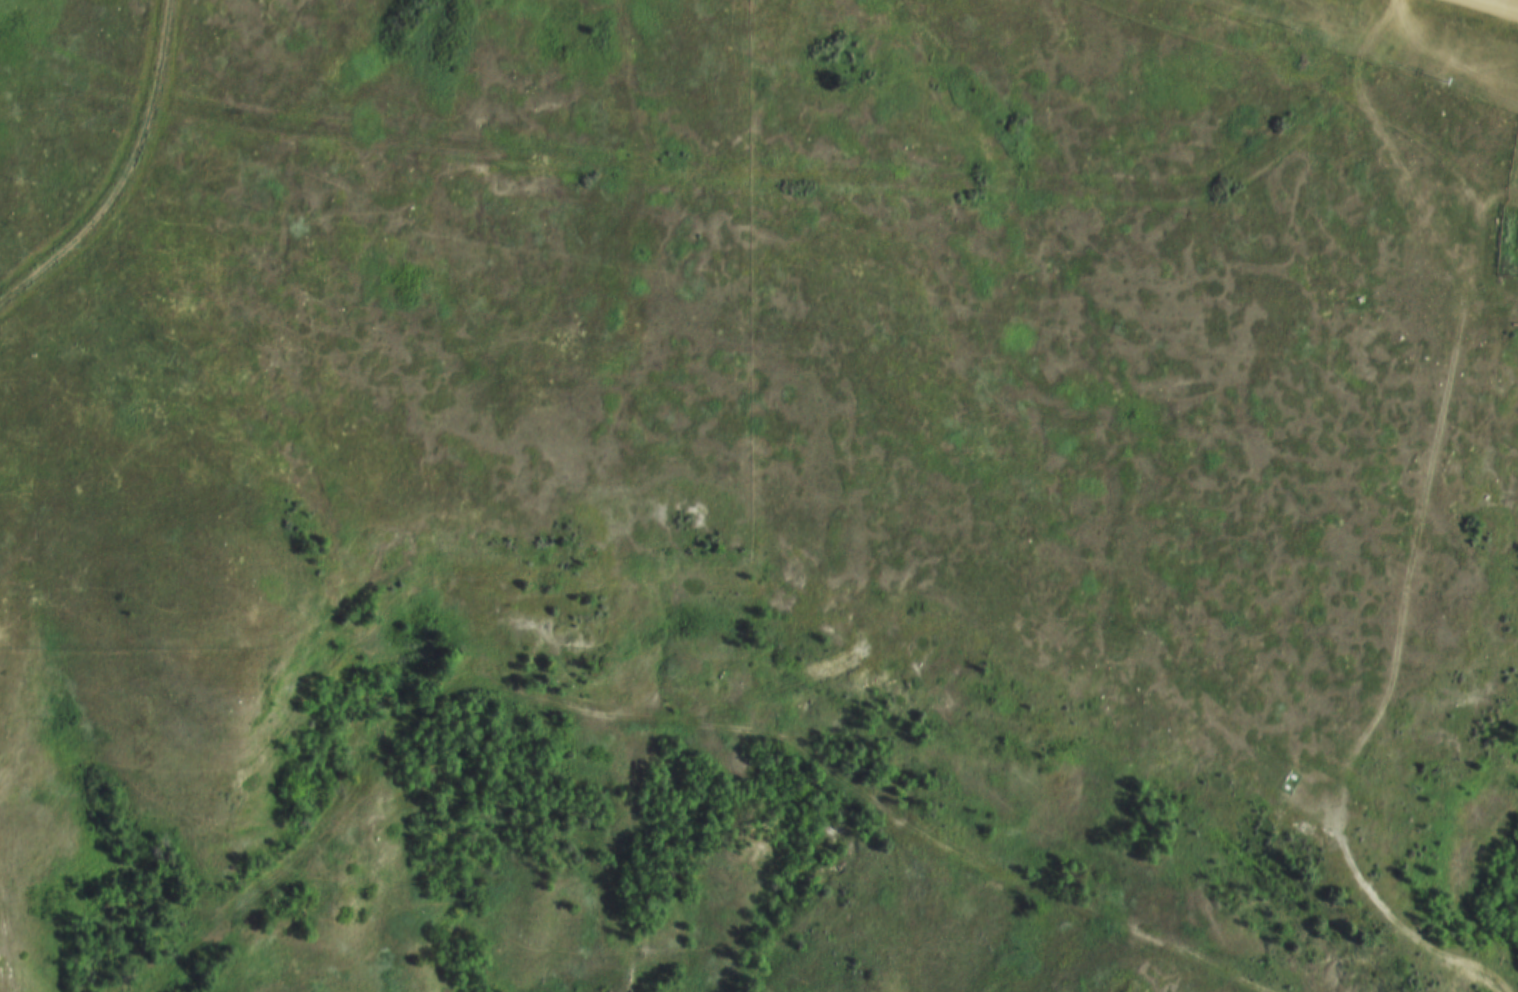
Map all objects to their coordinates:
road: (1498, 5)
road: (1455, 50)
road: (125, 176)
road: (1420, 516)

